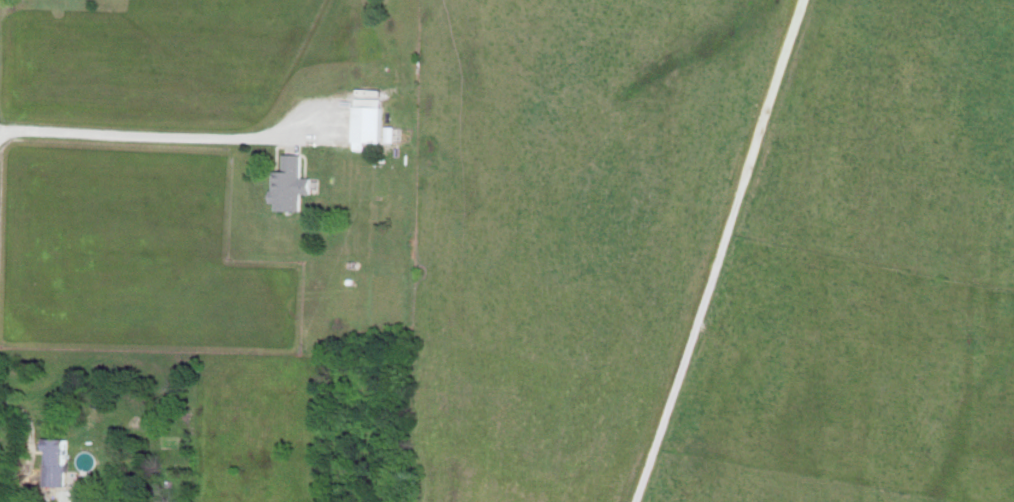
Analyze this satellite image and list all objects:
building: (370, 120)
road: (143, 136)
building: (292, 183)
railway: (718, 251)
road: (724, 251)
building: (57, 461)

